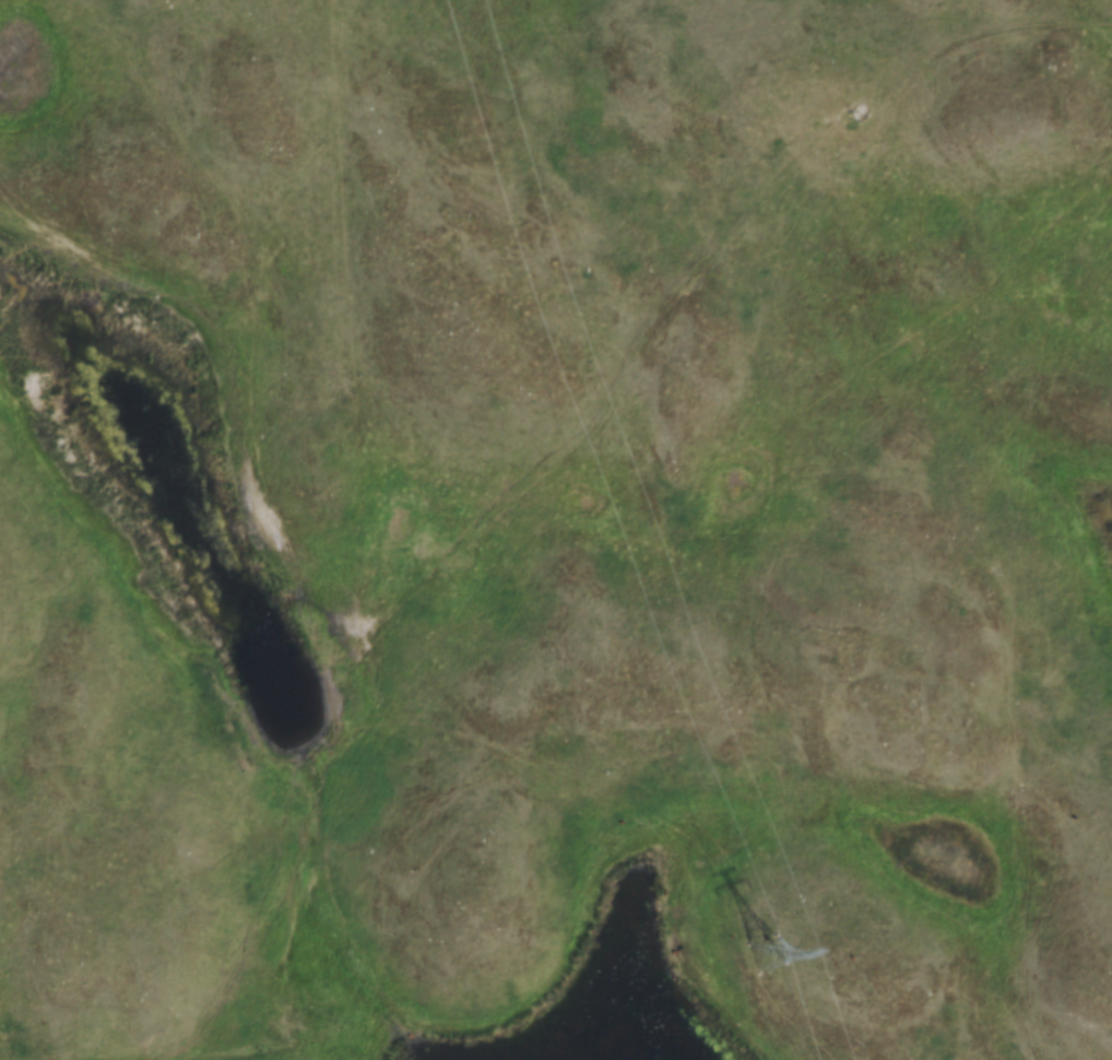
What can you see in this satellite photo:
power tower: (772, 957)

